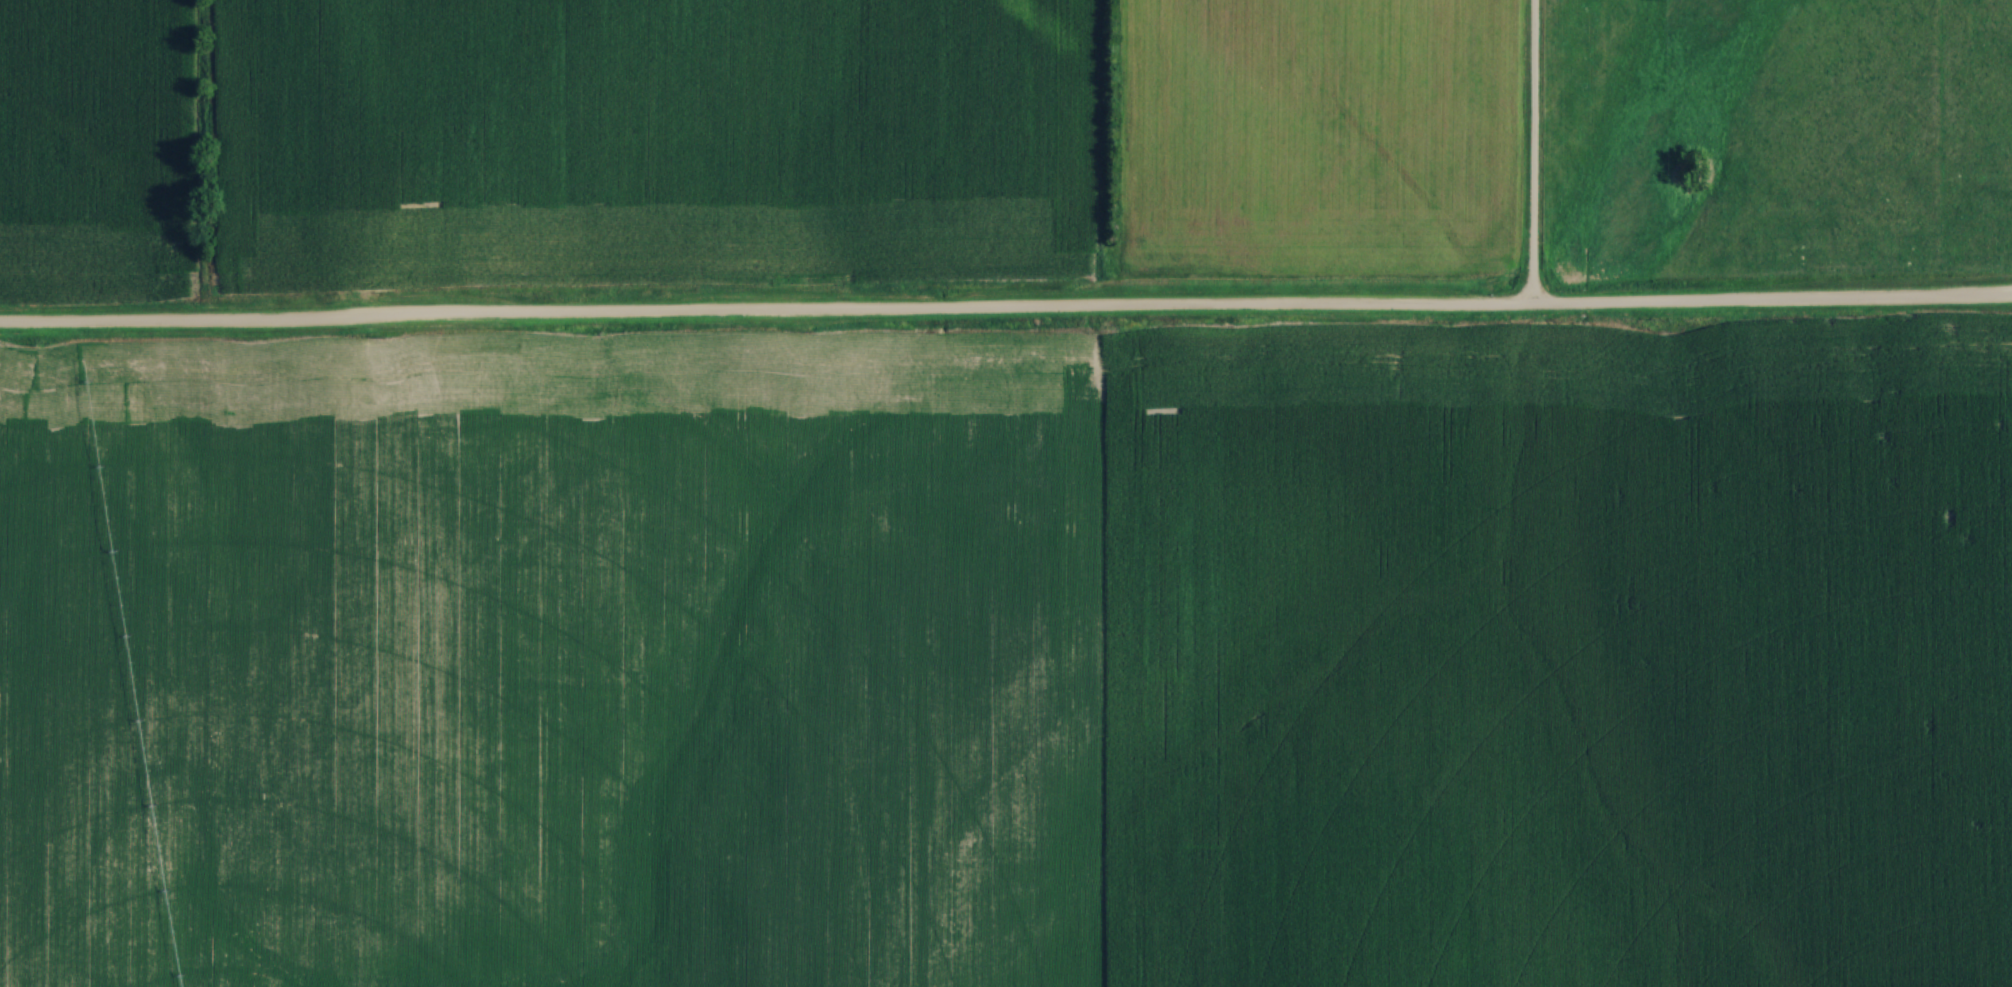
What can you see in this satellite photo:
road: (1532, 155)
road: (1006, 315)
building: (1450, 404)

